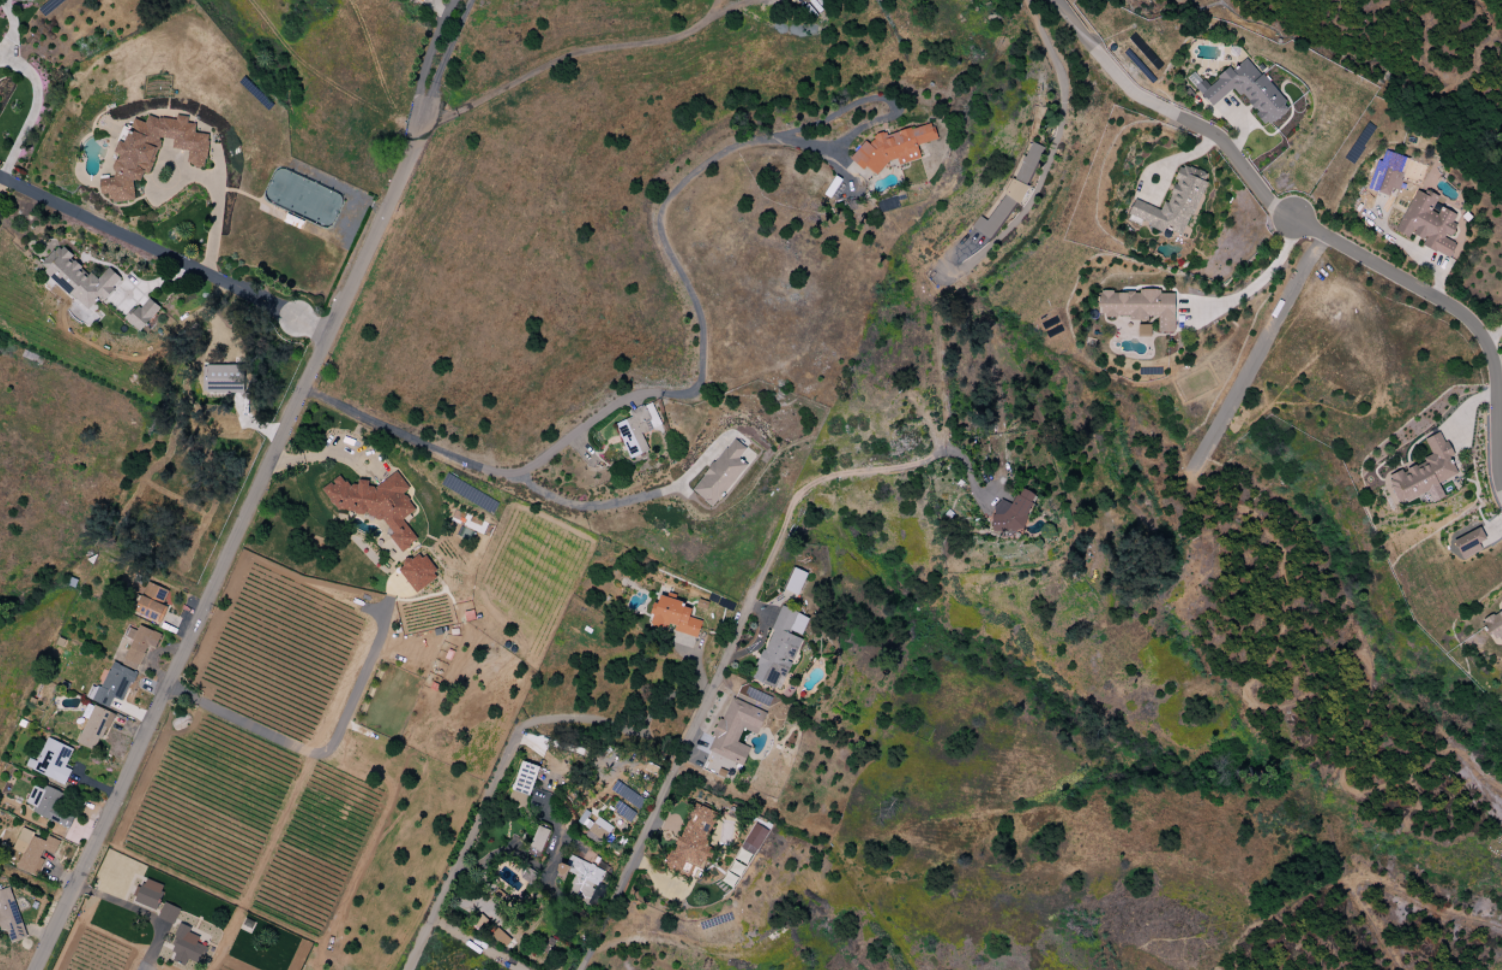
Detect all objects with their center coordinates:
road: (583, 51)
road: (433, 54)
building: (1249, 92)
road: (35, 109)
building: (892, 147)
building: (150, 152)
road: (1190, 154)
road: (1056, 156)
building: (1028, 163)
road: (1145, 170)
building: (1390, 180)
building: (1174, 203)
road: (216, 211)
building: (999, 211)
building: (1428, 222)
road: (1313, 231)
road: (165, 252)
building: (78, 280)
road: (1264, 283)
building: (1142, 307)
building: (142, 314)
building: (1143, 330)
road: (1493, 334)
road: (1256, 359)
building: (223, 378)
road: (677, 393)
building: (637, 429)
road: (316, 455)
building: (720, 473)
building: (1423, 474)
road: (257, 486)
road: (625, 501)
building: (376, 504)
building: (1011, 513)
building: (1468, 543)
building: (417, 571)
building: (795, 581)
building: (152, 602)
building: (673, 616)
building: (1494, 625)
building: (139, 645)
building: (780, 647)
road: (721, 664)
building: (112, 685)
road: (1271, 704)
road: (637, 723)
building: (94, 726)
building: (735, 730)
road: (314, 755)
building: (51, 761)
building: (524, 778)
building: (49, 805)
building: (623, 812)
building: (594, 828)
building: (539, 838)
building: (692, 838)
building: (753, 839)
building: (32, 850)
road: (468, 852)
building: (580, 878)
building: (148, 894)
building: (168, 913)
building: (9, 916)
building: (498, 935)
road: (476, 945)
building: (184, 946)
building: (481, 969)

